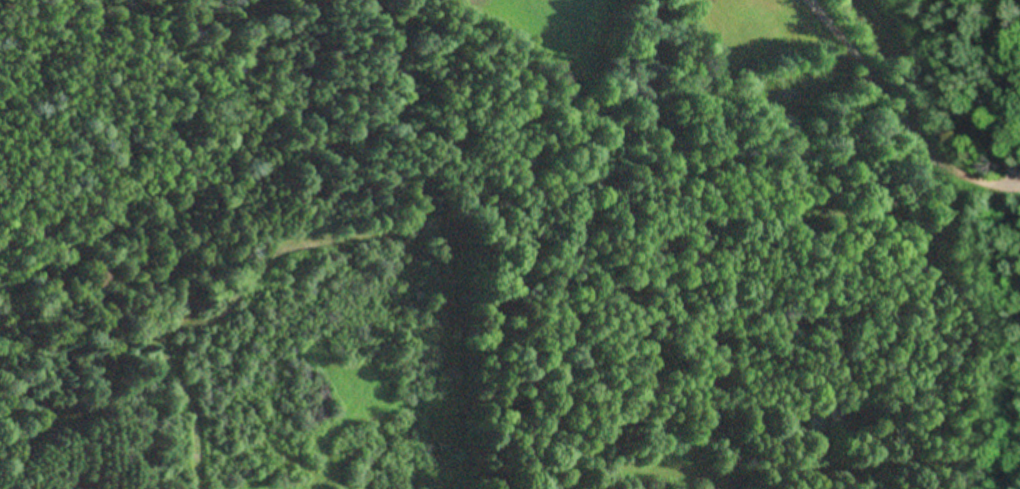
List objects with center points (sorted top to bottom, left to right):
road: (972, 196)

